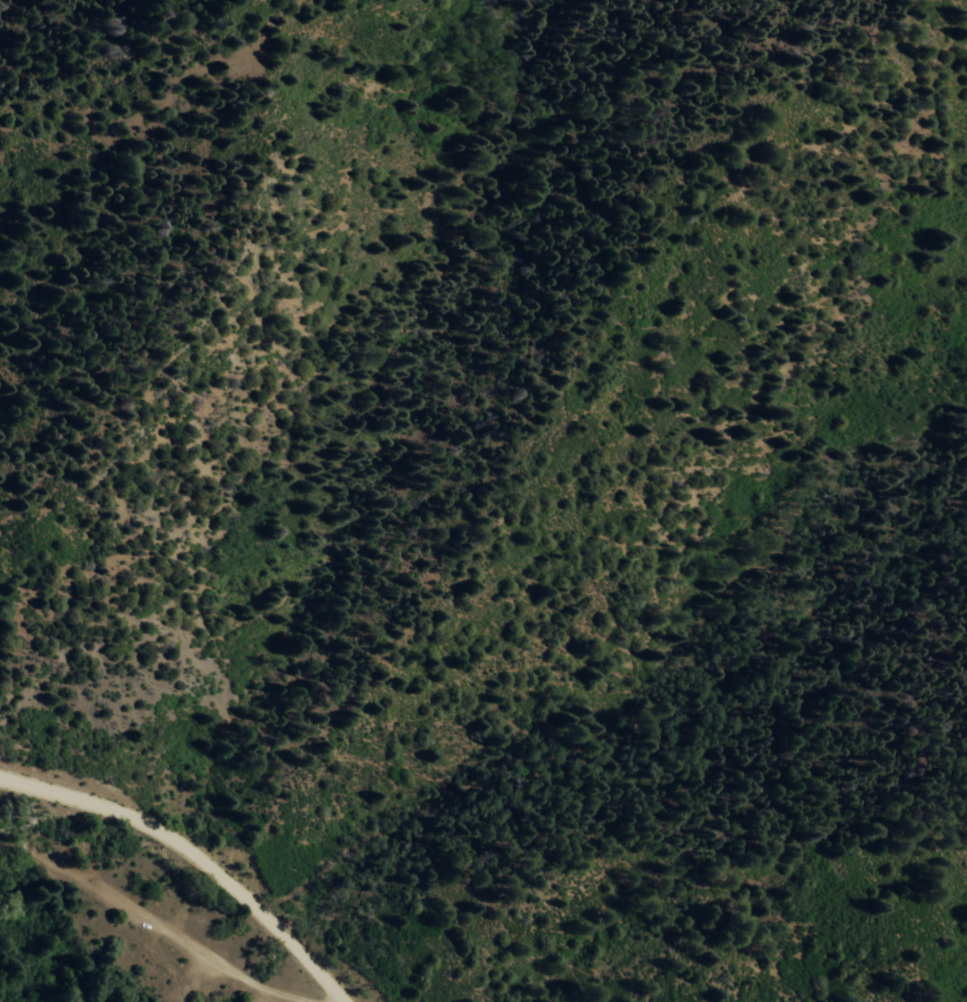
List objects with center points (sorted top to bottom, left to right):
road: (190, 855)

